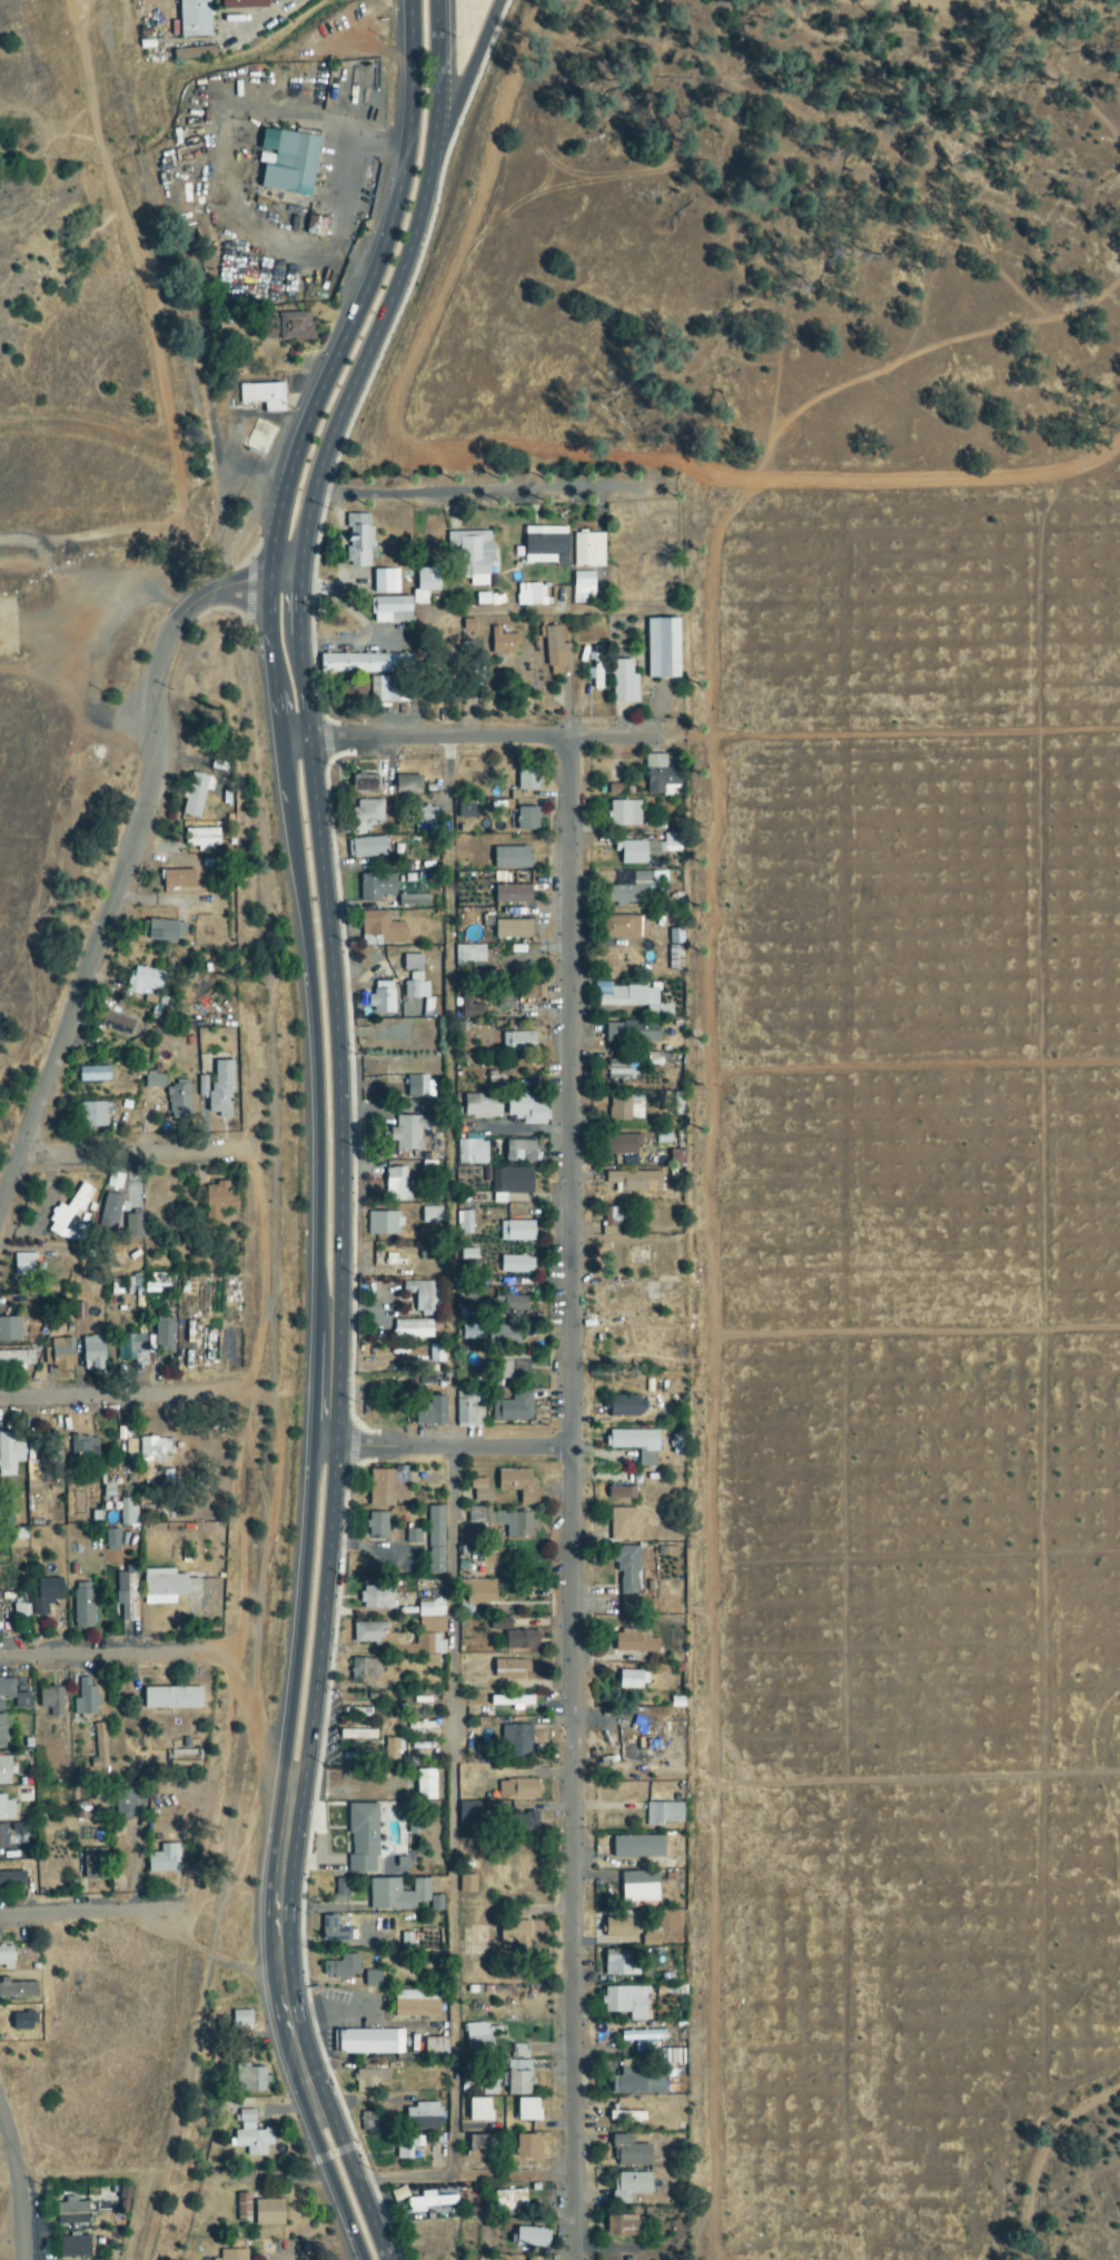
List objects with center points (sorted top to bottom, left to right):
building: (244, 4)
building: (194, 19)
building: (194, 55)
railway: (115, 62)
road: (434, 62)
road: (470, 66)
building: (289, 162)
building: (315, 227)
building: (303, 289)
building: (295, 326)
building: (267, 329)
road: (328, 369)
building: (262, 395)
road: (480, 488)
building: (358, 541)
building: (545, 546)
railway: (62, 550)
building: (588, 551)
building: (473, 554)
building: (385, 581)
building: (583, 583)
building: (425, 585)
building: (531, 594)
building: (390, 610)
building: (503, 642)
building: (662, 648)
building: (555, 652)
building: (365, 663)
building: (624, 682)
building: (394, 689)
road: (304, 714)
road: (473, 737)
building: (660, 774)
building: (527, 778)
building: (364, 786)
building: (196, 795)
building: (367, 813)
building: (624, 813)
building: (426, 816)
building: (527, 819)
building: (201, 838)
building: (366, 848)
building: (648, 849)
road: (131, 853)
building: (512, 858)
building: (178, 878)
building: (377, 886)
building: (633, 890)
building: (513, 894)
building: (414, 900)
building: (624, 926)
building: (380, 928)
building: (512, 929)
building: (166, 930)
building: (469, 955)
building: (412, 963)
building: (143, 980)
building: (410, 990)
building: (534, 991)
building: (381, 998)
building: (504, 998)
building: (631, 998)
building: (470, 1009)
building: (117, 1024)
building: (632, 1032)
road: (315, 1033)
building: (518, 1043)
building: (413, 1067)
building: (621, 1070)
building: (93, 1074)
building: (153, 1080)
building: (416, 1087)
building: (221, 1088)
building: (178, 1101)
building: (482, 1106)
building: (625, 1108)
building: (525, 1109)
building: (93, 1115)
building: (409, 1132)
building: (620, 1145)
building: (519, 1151)
building: (472, 1152)
road: (127, 1158)
building: (512, 1181)
building: (635, 1181)
building: (398, 1185)
building: (218, 1201)
road: (252, 1212)
building: (69, 1214)
building: (430, 1215)
building: (384, 1224)
building: (132, 1226)
building: (516, 1231)
building: (516, 1264)
building: (423, 1296)
building: (513, 1301)
building: (413, 1329)
building: (9, 1330)
building: (470, 1332)
building: (165, 1338)
building: (130, 1349)
building: (59, 1354)
building: (92, 1354)
building: (16, 1359)
building: (519, 1368)
road: (325, 1385)
road: (107, 1398)
building: (398, 1405)
building: (626, 1407)
building: (513, 1409)
building: (430, 1412)
building: (468, 1412)
road: (447, 1444)
building: (636, 1445)
building: (83, 1447)
building: (155, 1449)
building: (10, 1451)
railway: (268, 1451)
building: (518, 1486)
building: (387, 1487)
building: (480, 1491)
building: (621, 1493)
road: (573, 1498)
building: (127, 1513)
building: (475, 1513)
building: (515, 1523)
building: (623, 1523)
building: (377, 1526)
building: (435, 1527)
building: (111, 1540)
building: (435, 1560)
building: (627, 1569)
building: (166, 1587)
building: (478, 1592)
building: (126, 1593)
building: (377, 1598)
building: (44, 1599)
building: (82, 1605)
building: (428, 1605)
building: (630, 1606)
road: (299, 1612)
road: (320, 1615)
building: (434, 1625)
building: (397, 1640)
building: (521, 1640)
building: (635, 1641)
road: (96, 1655)
building: (364, 1669)
building: (509, 1669)
building: (633, 1680)
building: (6, 1690)
building: (86, 1698)
building: (171, 1698)
building: (51, 1700)
building: (511, 1701)
building: (2, 1731)
building: (515, 1743)
building: (393, 1750)
building: (6, 1770)
building: (426, 1785)
building: (518, 1789)
building: (128, 1804)
building: (6, 1809)
building: (468, 1813)
building: (663, 1814)
building: (524, 1825)
building: (13, 1838)
building: (363, 1838)
building: (637, 1847)
building: (163, 1859)
building: (95, 1864)
building: (12, 1878)
building: (467, 1884)
building: (638, 1887)
building: (340, 1888)
building: (396, 1895)
building: (436, 1904)
road: (88, 1913)
building: (336, 1928)
building: (618, 1928)
building: (515, 1934)
road: (276, 1950)
road: (206, 1952)
building: (6, 1957)
building: (620, 1964)
building: (341, 1967)
building: (371, 1978)
building: (17, 1990)
building: (625, 2002)
building: (415, 2005)
building: (22, 2022)
building: (643, 2035)
building: (476, 2036)
building: (370, 2043)
building: (645, 2045)
building: (519, 2051)
building: (517, 2078)
building: (250, 2080)
building: (369, 2080)
building: (635, 2081)
building: (489, 2085)
building: (479, 2110)
building: (527, 2110)
building: (625, 2115)
building: (423, 2116)
building: (251, 2135)
building: (407, 2145)
building: (528, 2145)
building: (479, 2146)
building: (631, 2153)
road: (464, 2175)
road: (356, 2183)
building: (630, 2185)
road: (16, 2188)
road: (335, 2188)
building: (509, 2199)
building: (429, 2202)
building: (242, 2207)
building: (268, 2212)
building: (72, 2213)
building: (623, 2226)
building: (531, 2237)
building: (75, 2246)
building: (232, 2254)
building: (533, 2258)

